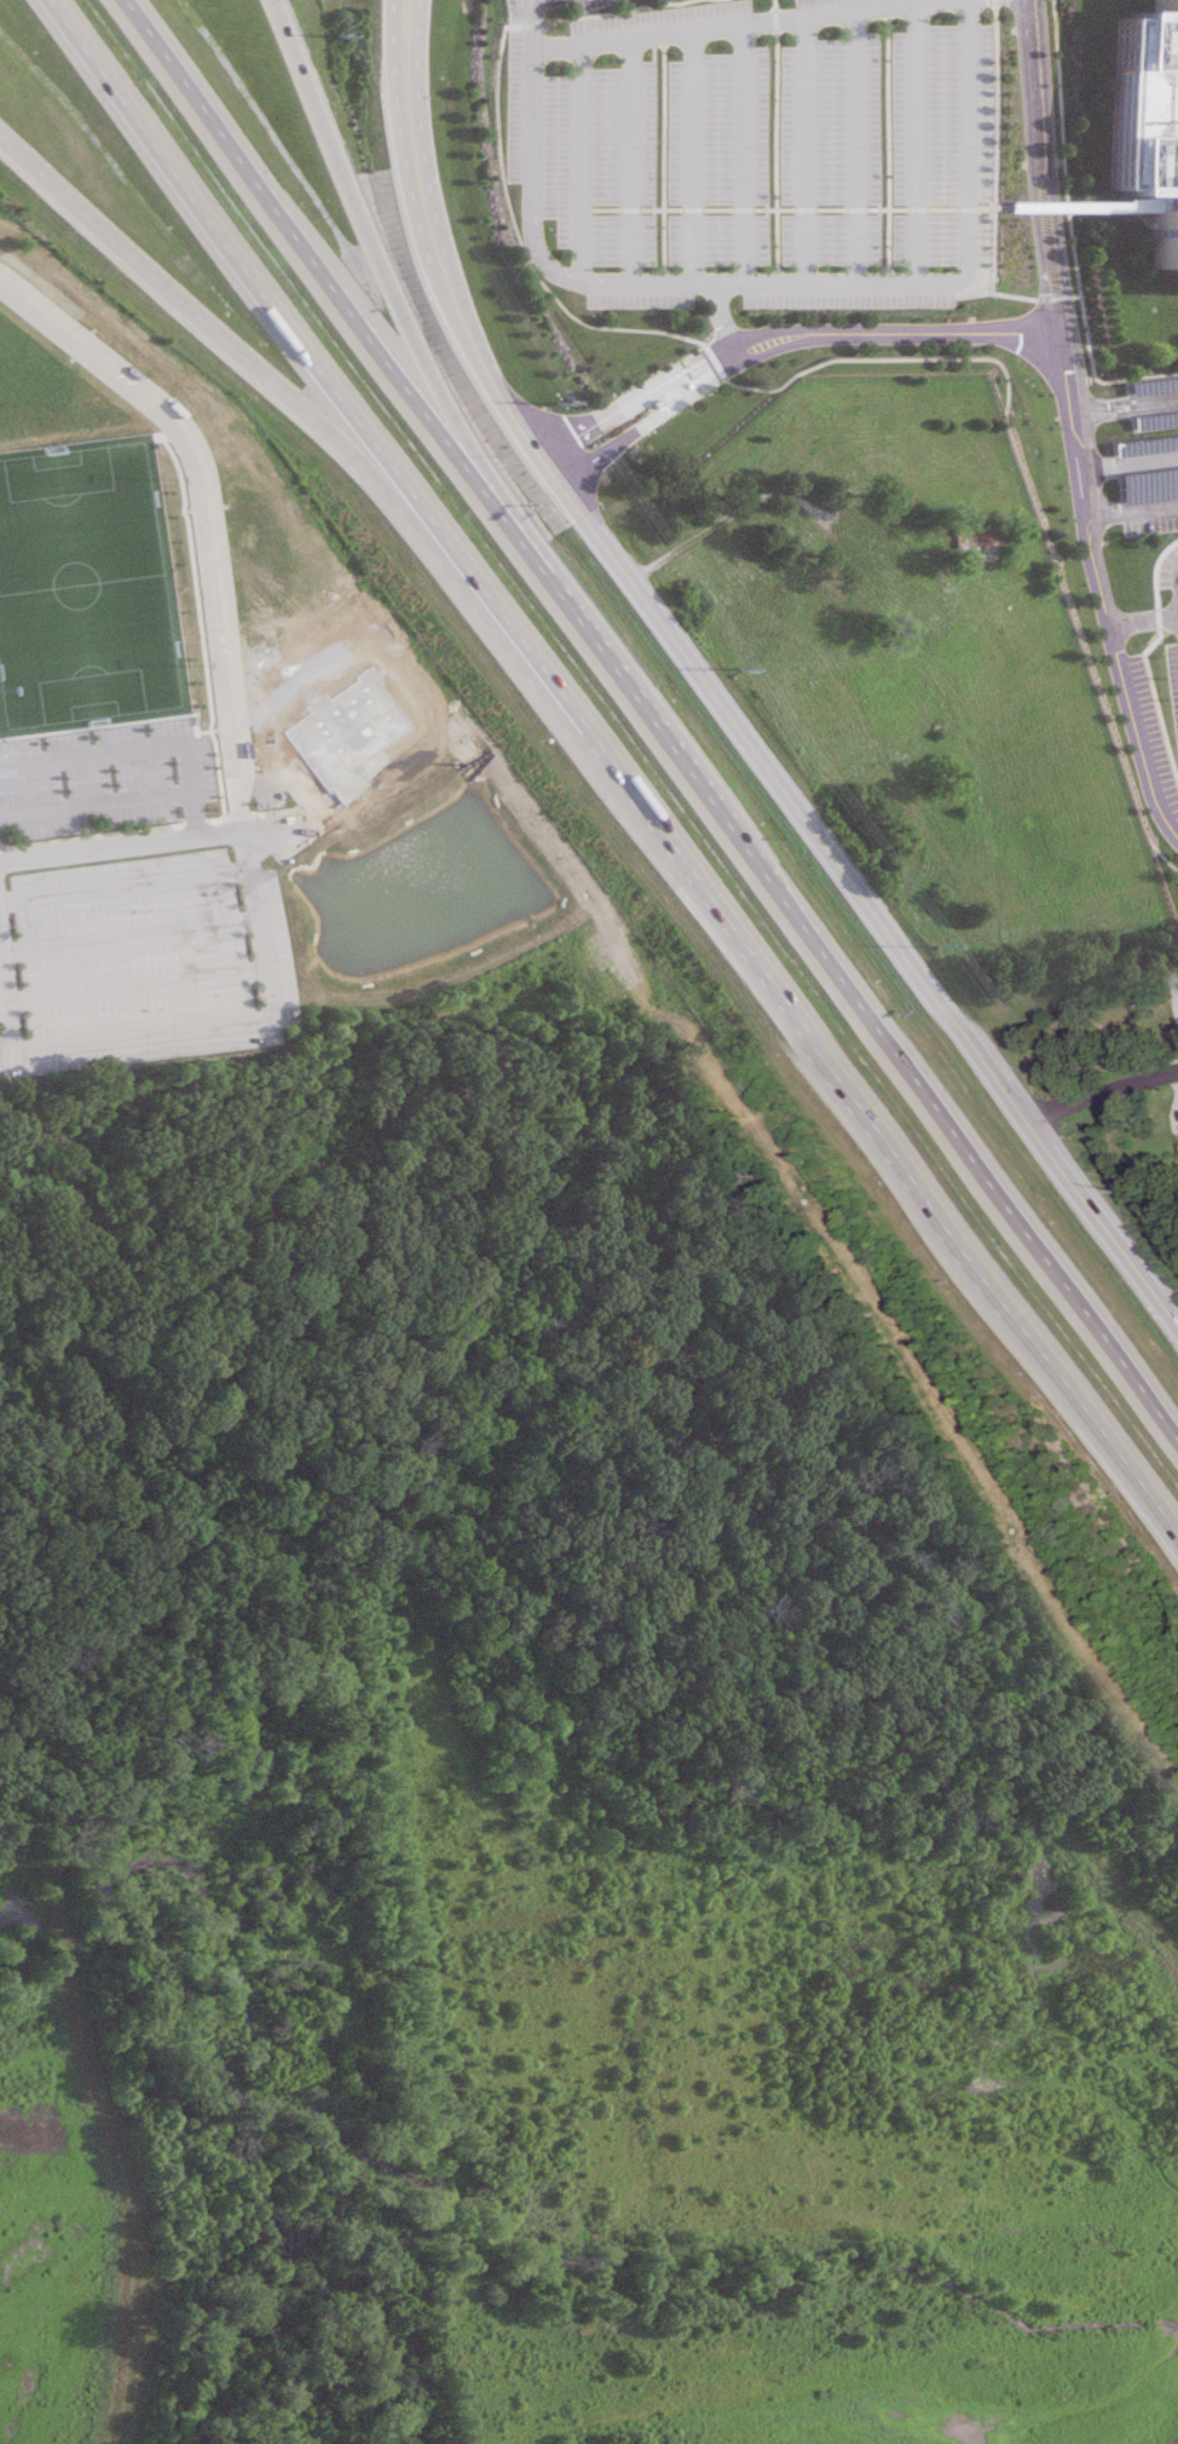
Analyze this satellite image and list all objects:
road: (530, 0)
road: (531, 21)
road: (547, 44)
road: (415, 91)
road: (392, 92)
building: (1153, 108)
road: (968, 139)
road: (775, 140)
road: (916, 140)
road: (993, 144)
road: (855, 145)
parking lot: (751, 148)
road: (803, 148)
road: (744, 152)
road: (692, 155)
road: (630, 157)
road: (583, 158)
road: (1081, 206)
road: (789, 207)
road: (1076, 229)
road: (796, 282)
road: (1064, 296)
road: (350, 310)
road: (406, 317)
road: (463, 319)
road: (978, 330)
road: (704, 358)
road: (795, 371)
road: (712, 377)
building: (1151, 384)
road: (331, 386)
road: (1162, 400)
parking lot: (1147, 403)
road: (1147, 403)
road: (306, 410)
building: (1154, 420)
road: (605, 423)
road: (1076, 425)
building: (1144, 444)
road: (539, 454)
road: (1128, 462)
road: (552, 469)
parking lot: (1143, 482)
building: (1147, 484)
road: (206, 508)
road: (1131, 509)
road: (726, 512)
building: (911, 524)
building: (974, 536)
park: (86, 587)
road: (1143, 617)
parking lot: (1167, 627)
road: (672, 749)
road: (589, 753)
road: (187, 772)
road: (311, 800)
road: (194, 815)
road: (122, 843)
road: (872, 898)
road: (174, 1027)
road: (6, 1049)
road: (1105, 1089)
road: (896, 1155)
road: (971, 1158)

